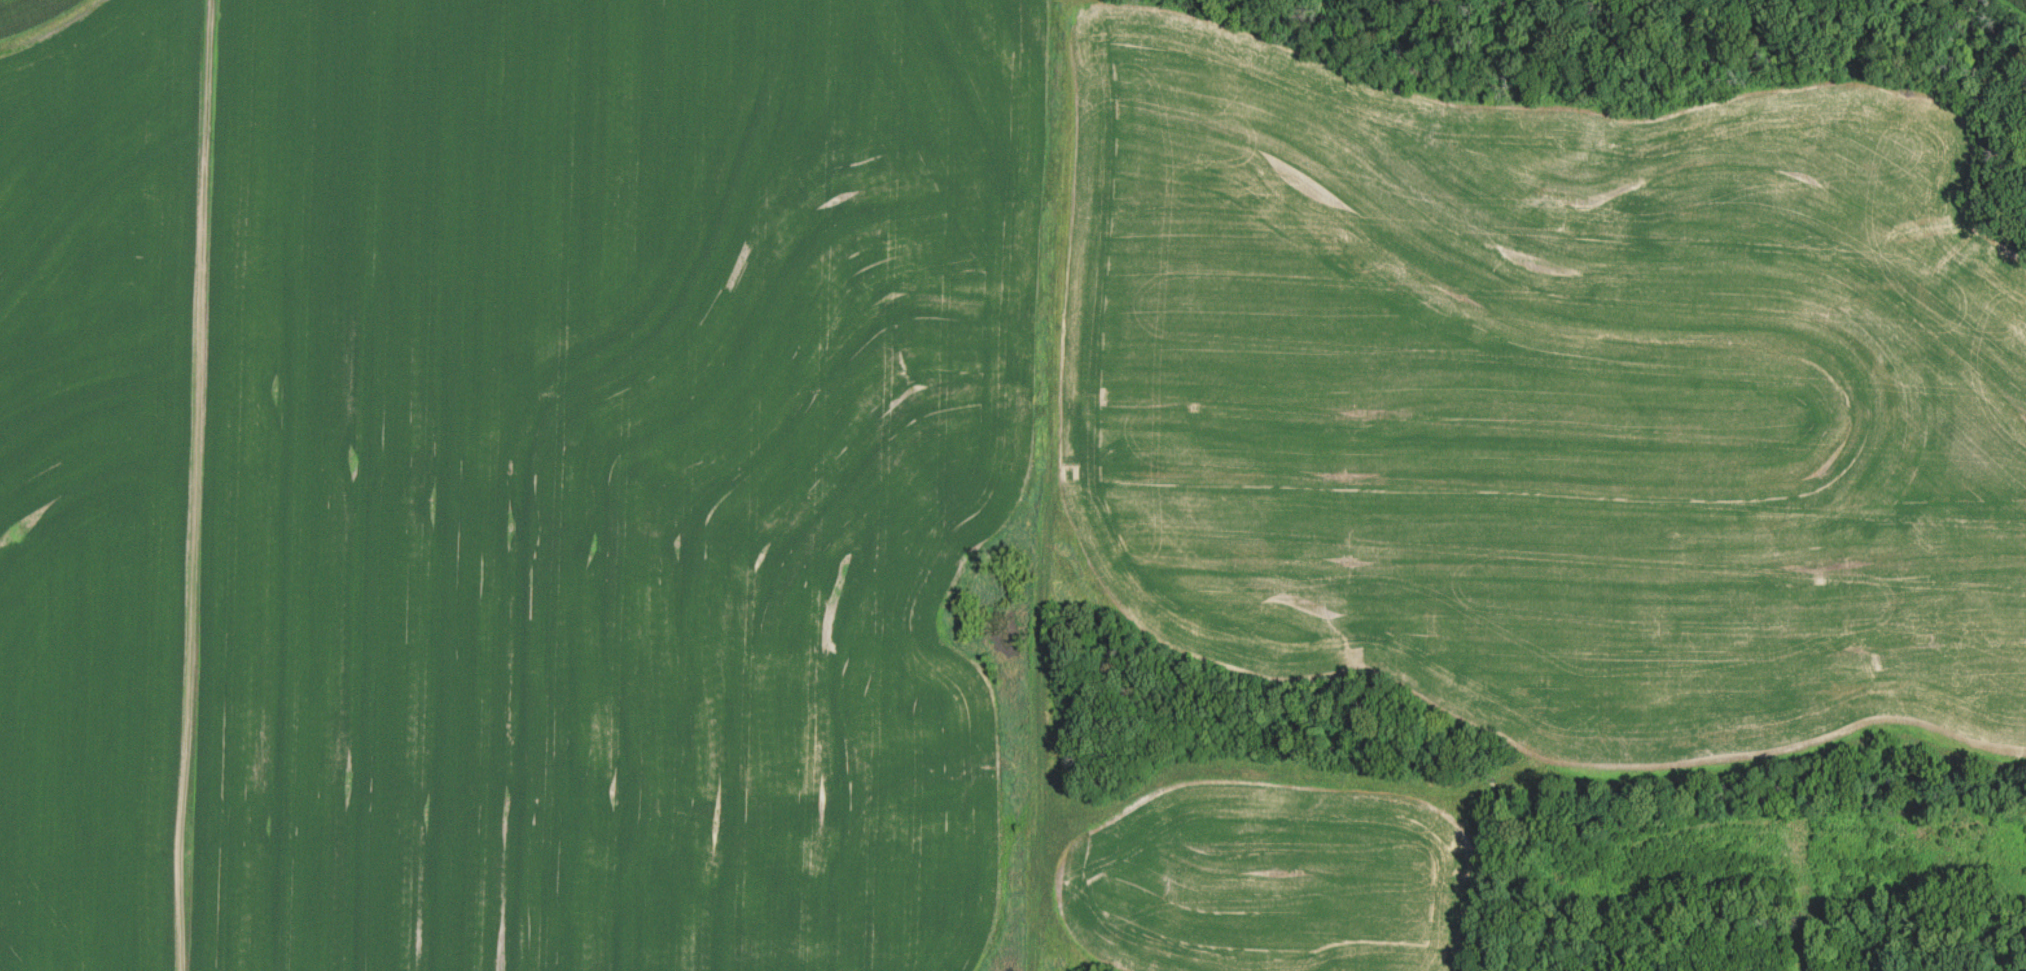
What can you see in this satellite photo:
road: (190, 485)

